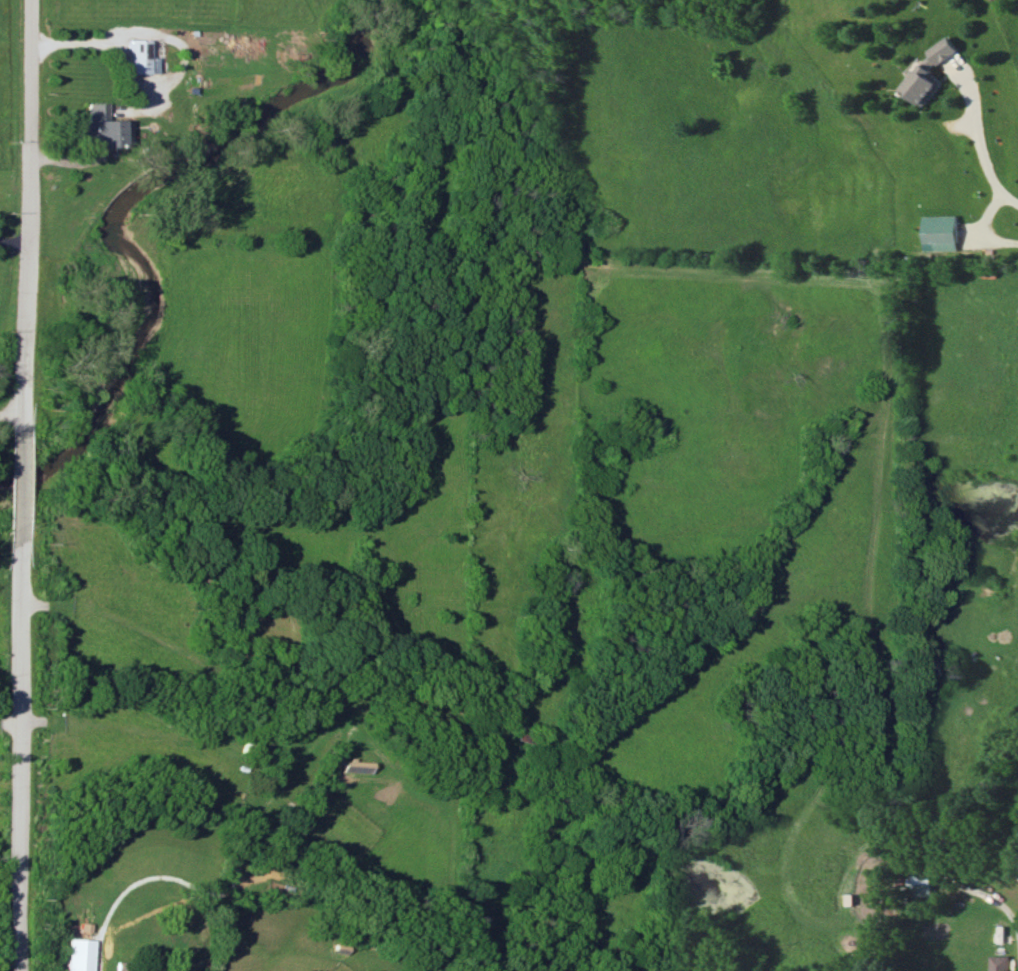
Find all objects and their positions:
road: (103, 46)
building: (139, 57)
building: (927, 73)
building: (100, 128)
road: (988, 164)
river: (120, 208)
road: (23, 217)
building: (941, 232)
road: (11, 239)
road: (14, 491)
road: (14, 760)
building: (919, 885)
road: (1002, 910)
building: (76, 954)
building: (999, 963)

